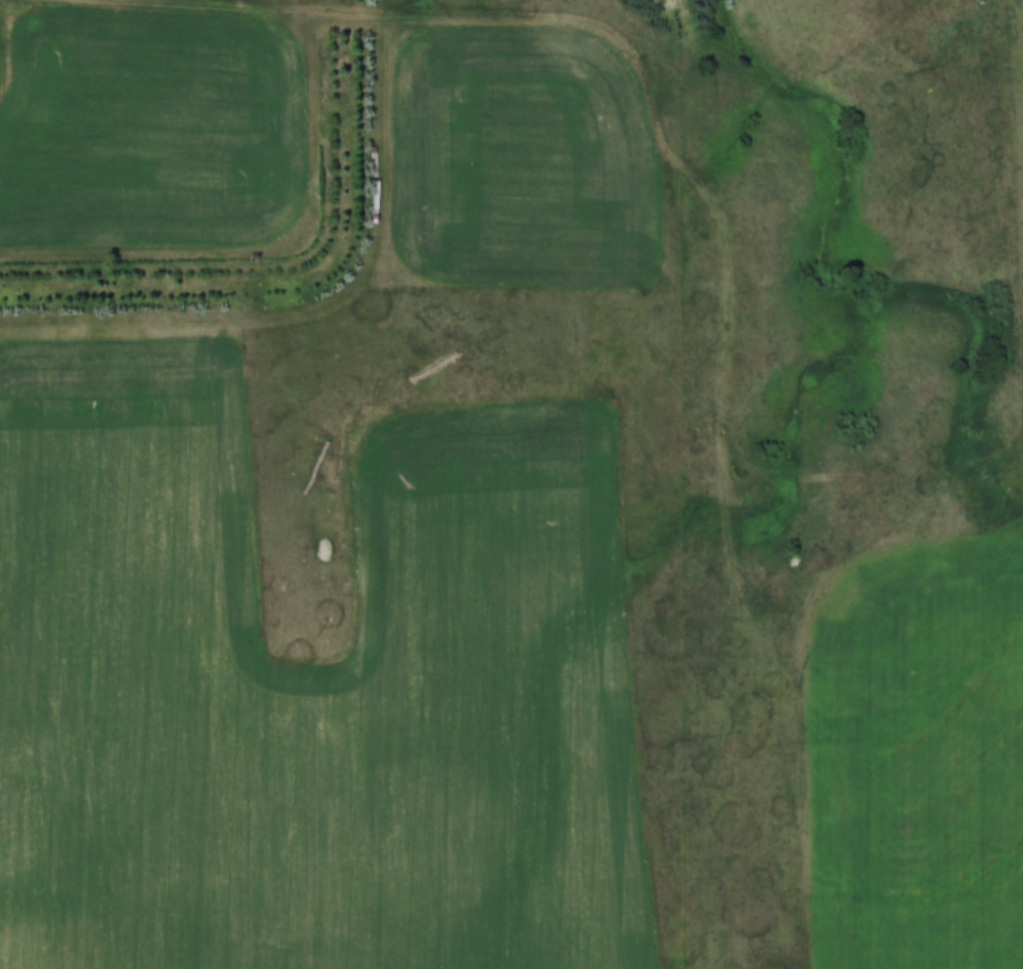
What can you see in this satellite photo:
road: (728, 316)

